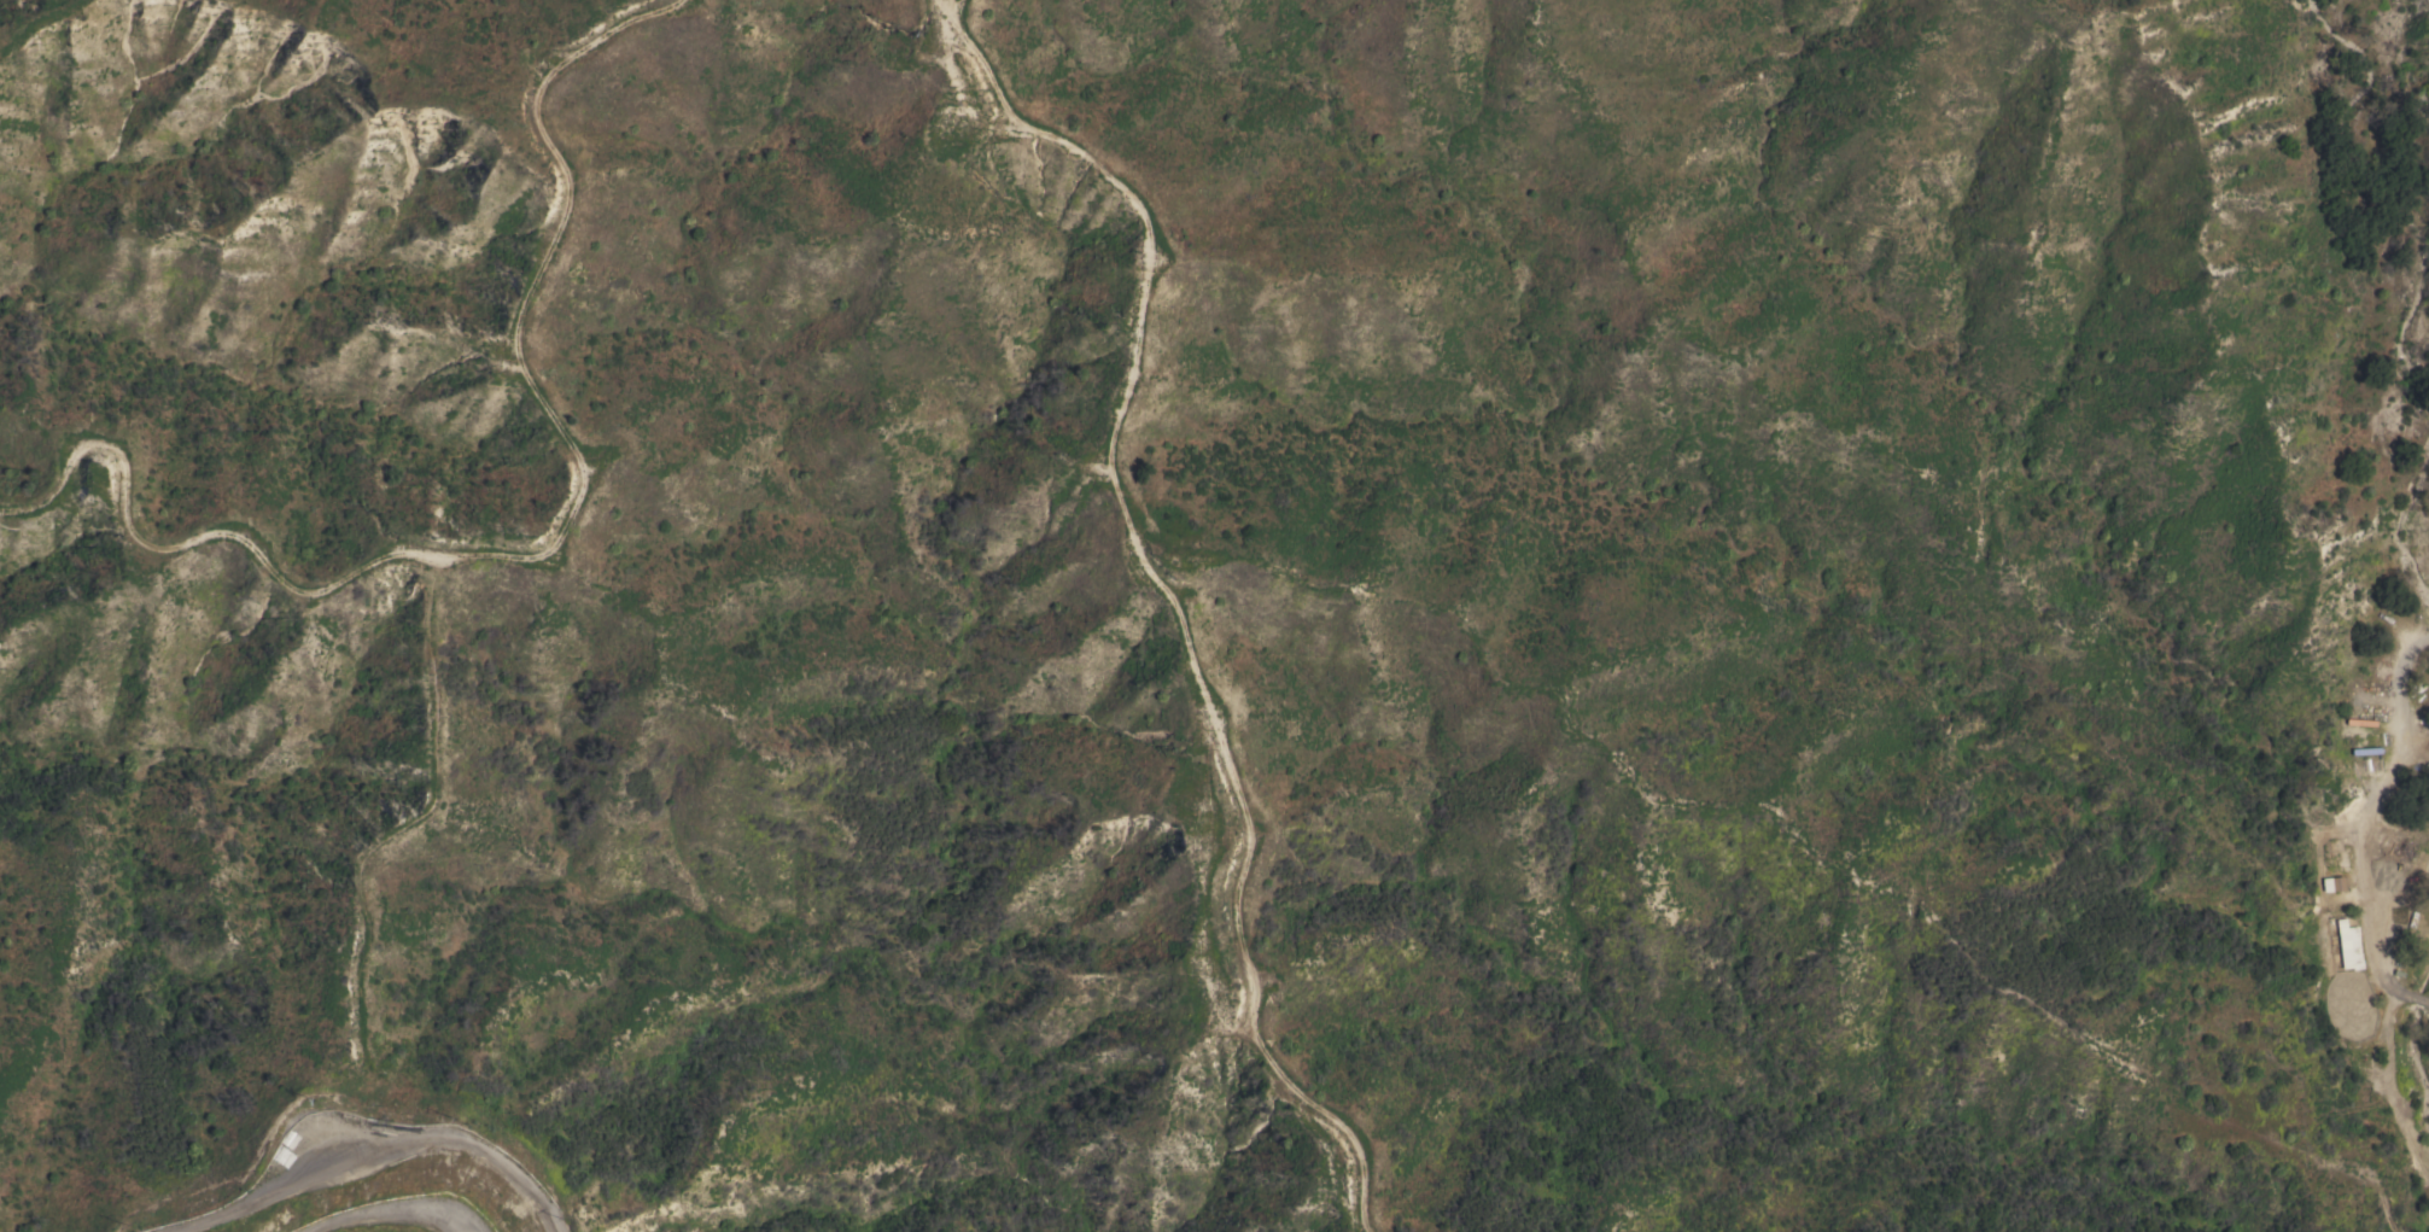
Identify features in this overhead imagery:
road: (953, 6)
road: (945, 7)
road: (951, 7)
road: (531, 549)
road: (1175, 599)
road: (2357, 827)
building: (2335, 884)
road: (383, 1148)
landfill: (373, 1176)

